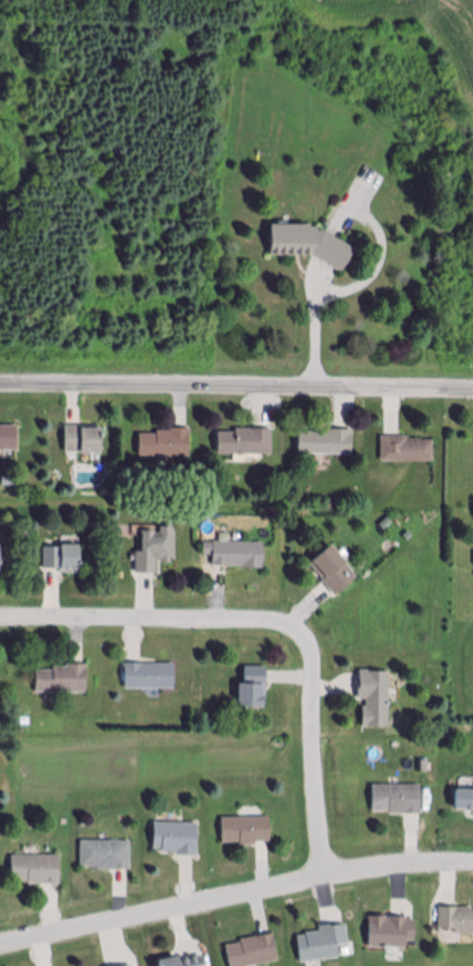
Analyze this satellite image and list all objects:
crop: (465, 165)
building: (309, 244)
road: (320, 275)
road: (325, 285)
road: (316, 323)
road: (236, 389)
building: (9, 439)
building: (84, 440)
building: (245, 443)
building: (326, 444)
building: (166, 445)
building: (406, 450)
building: (387, 525)
building: (409, 537)
building: (156, 550)
building: (236, 555)
building: (63, 559)
building: (334, 570)
road: (149, 620)
building: (150, 677)
building: (63, 681)
building: (253, 690)
building: (375, 698)
road: (315, 751)
building: (424, 769)
building: (397, 800)
building: (464, 802)
building: (246, 830)
building: (176, 839)
building: (106, 856)
building: (36, 871)
road: (235, 895)
building: (456, 920)
building: (391, 933)
building: (322, 945)
building: (253, 952)
building: (181, 961)
building: (130, 965)

